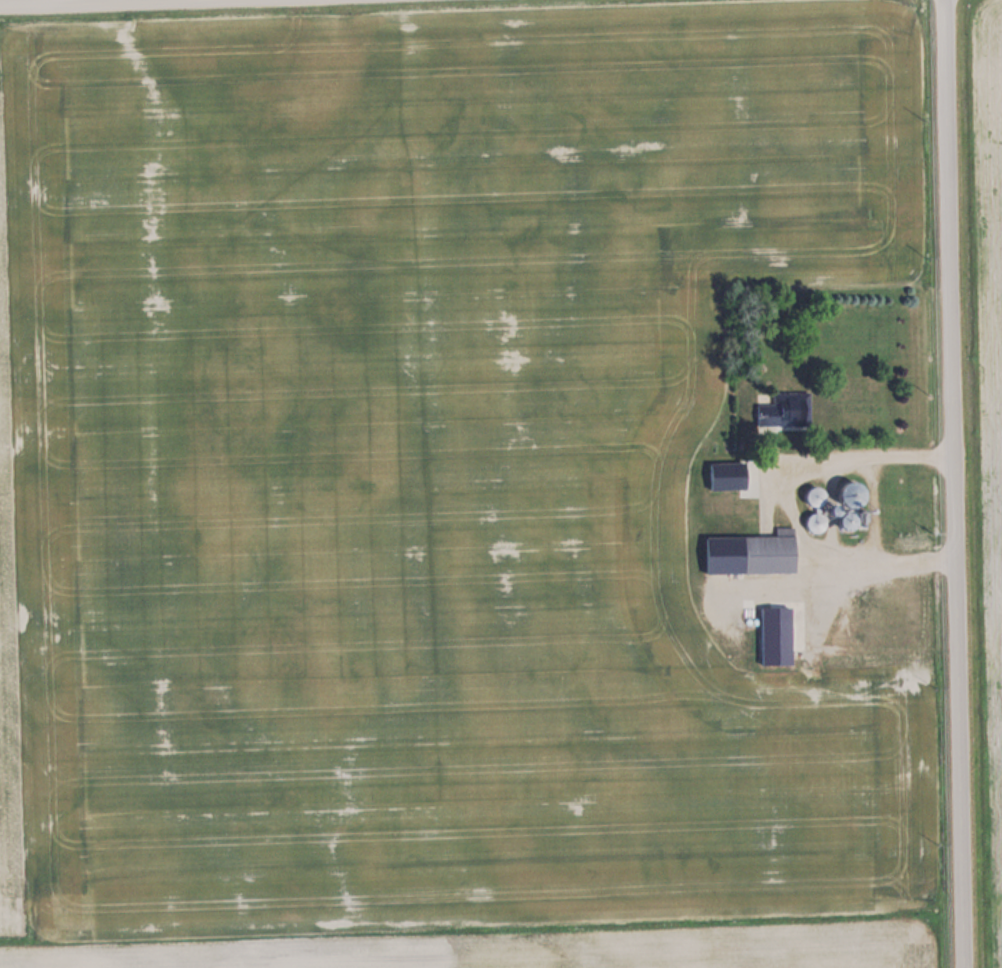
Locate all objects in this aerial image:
road: (84, 2)
building: (782, 408)
road: (950, 484)
building: (850, 492)
building: (814, 495)
building: (816, 519)
building: (846, 519)
building: (769, 551)

